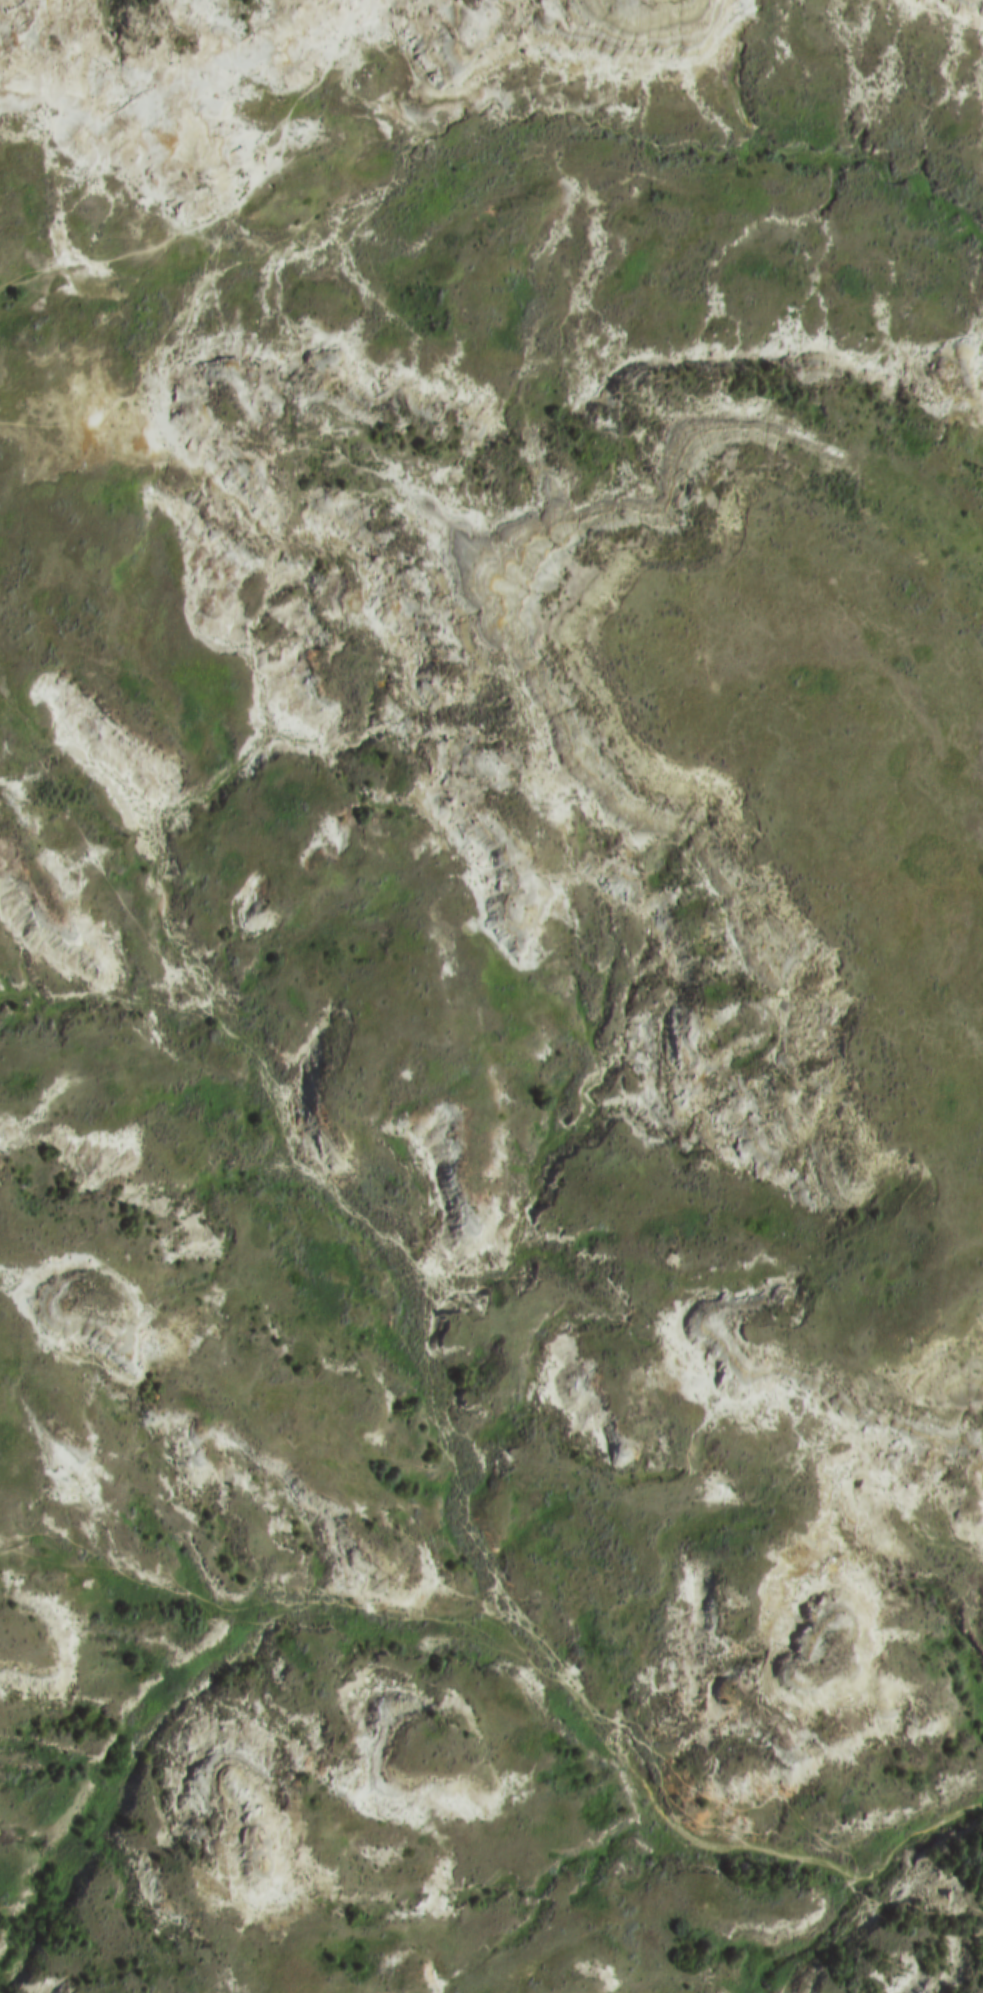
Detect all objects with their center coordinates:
road: (231, 208)

